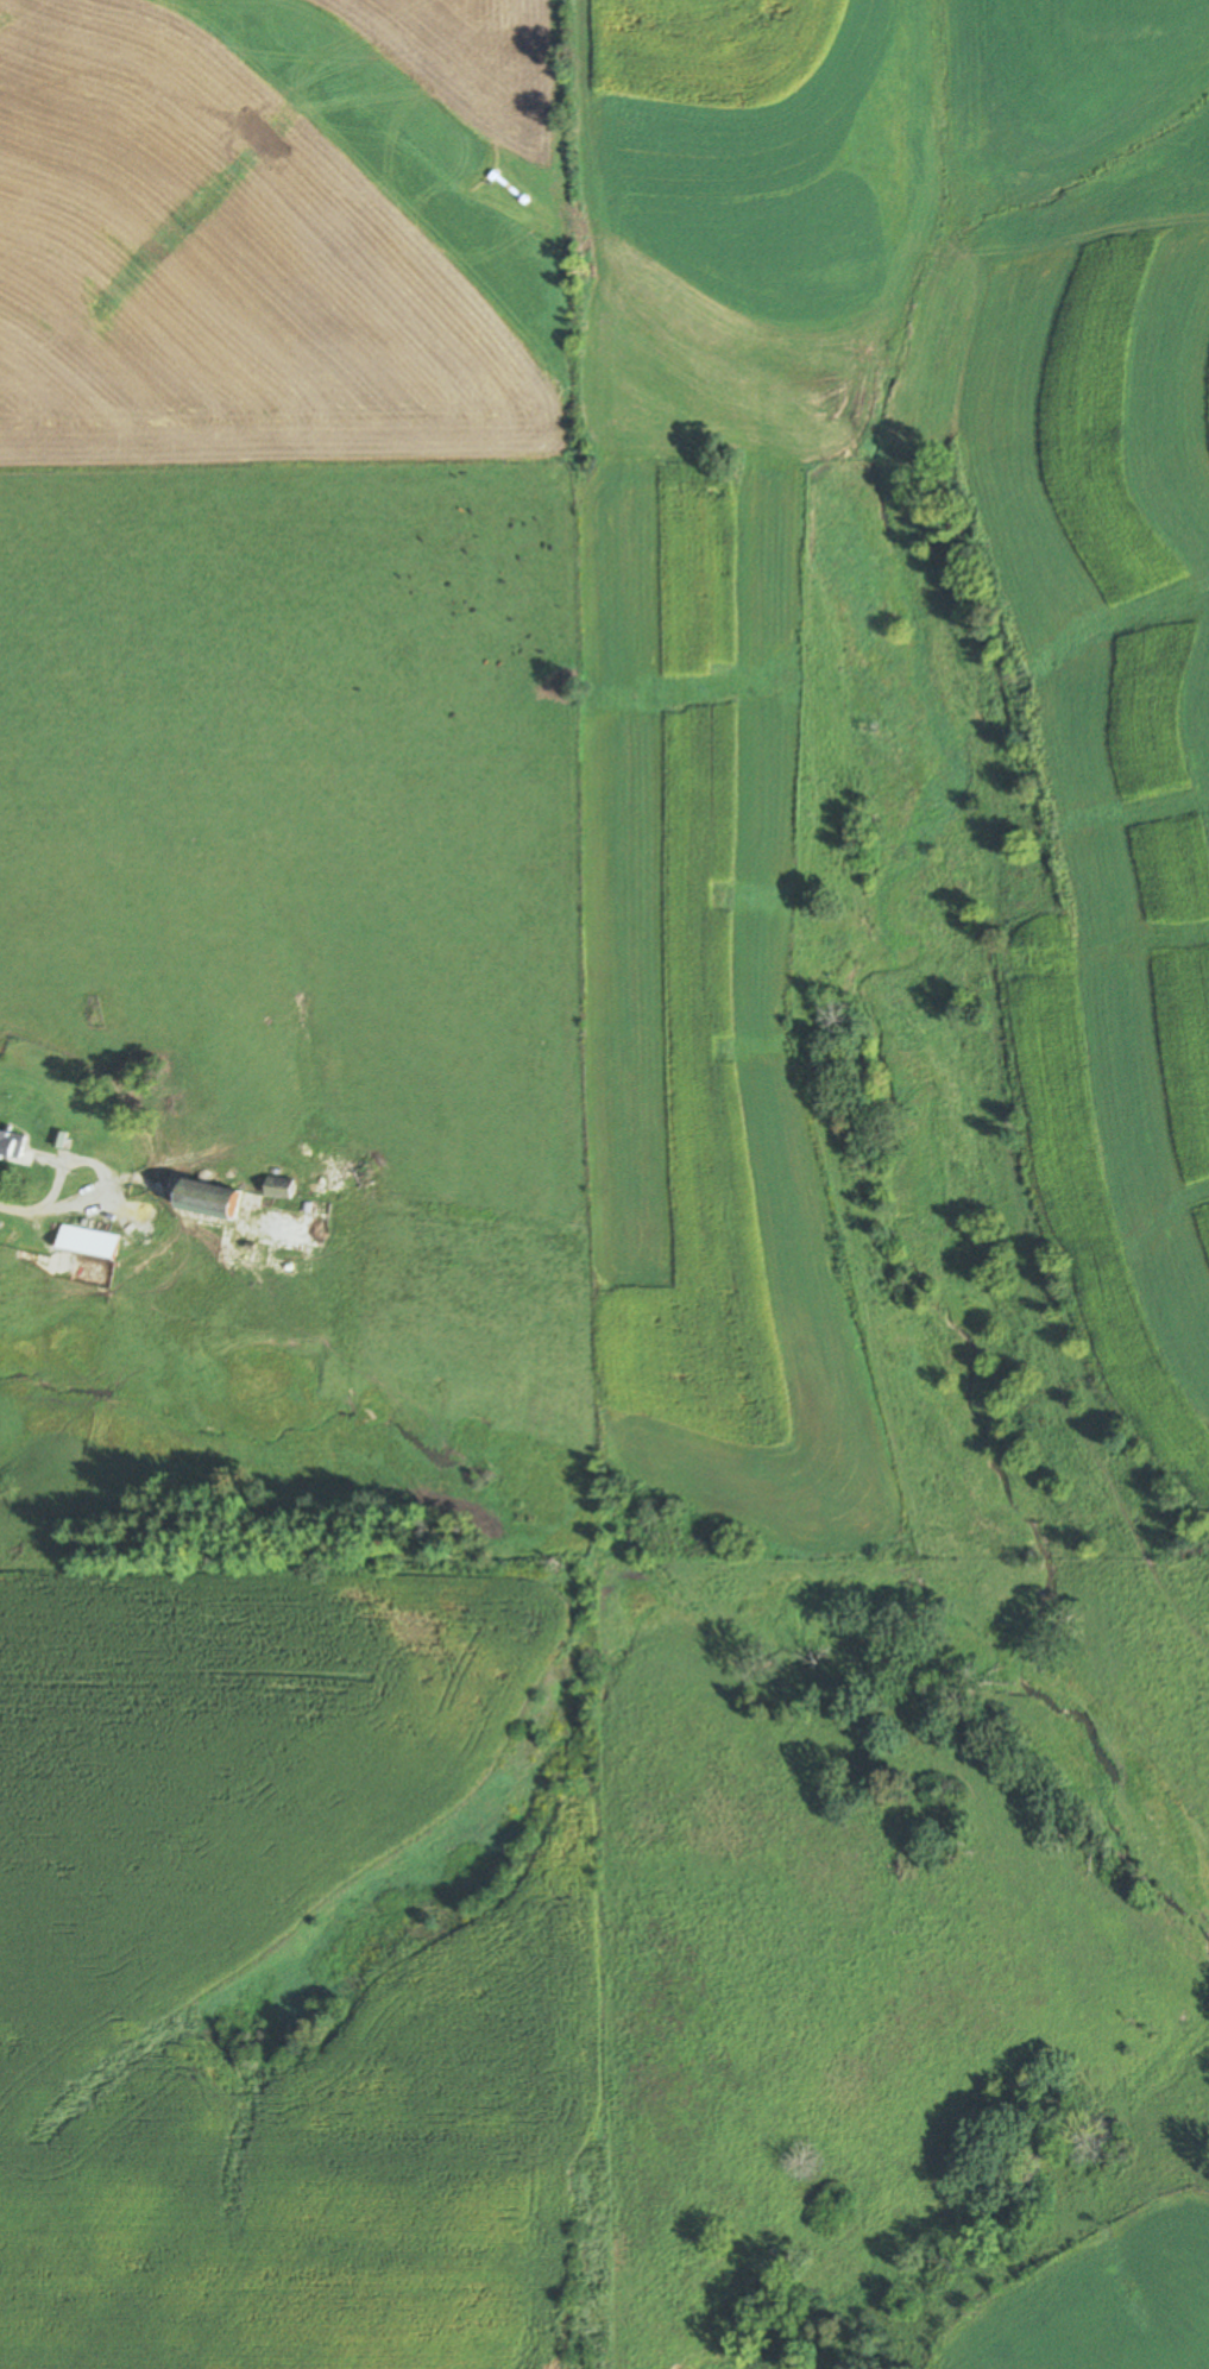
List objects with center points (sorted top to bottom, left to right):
building: (10, 1147)
building: (279, 1189)
building: (207, 1201)
road: (10, 1221)
building: (86, 1240)

